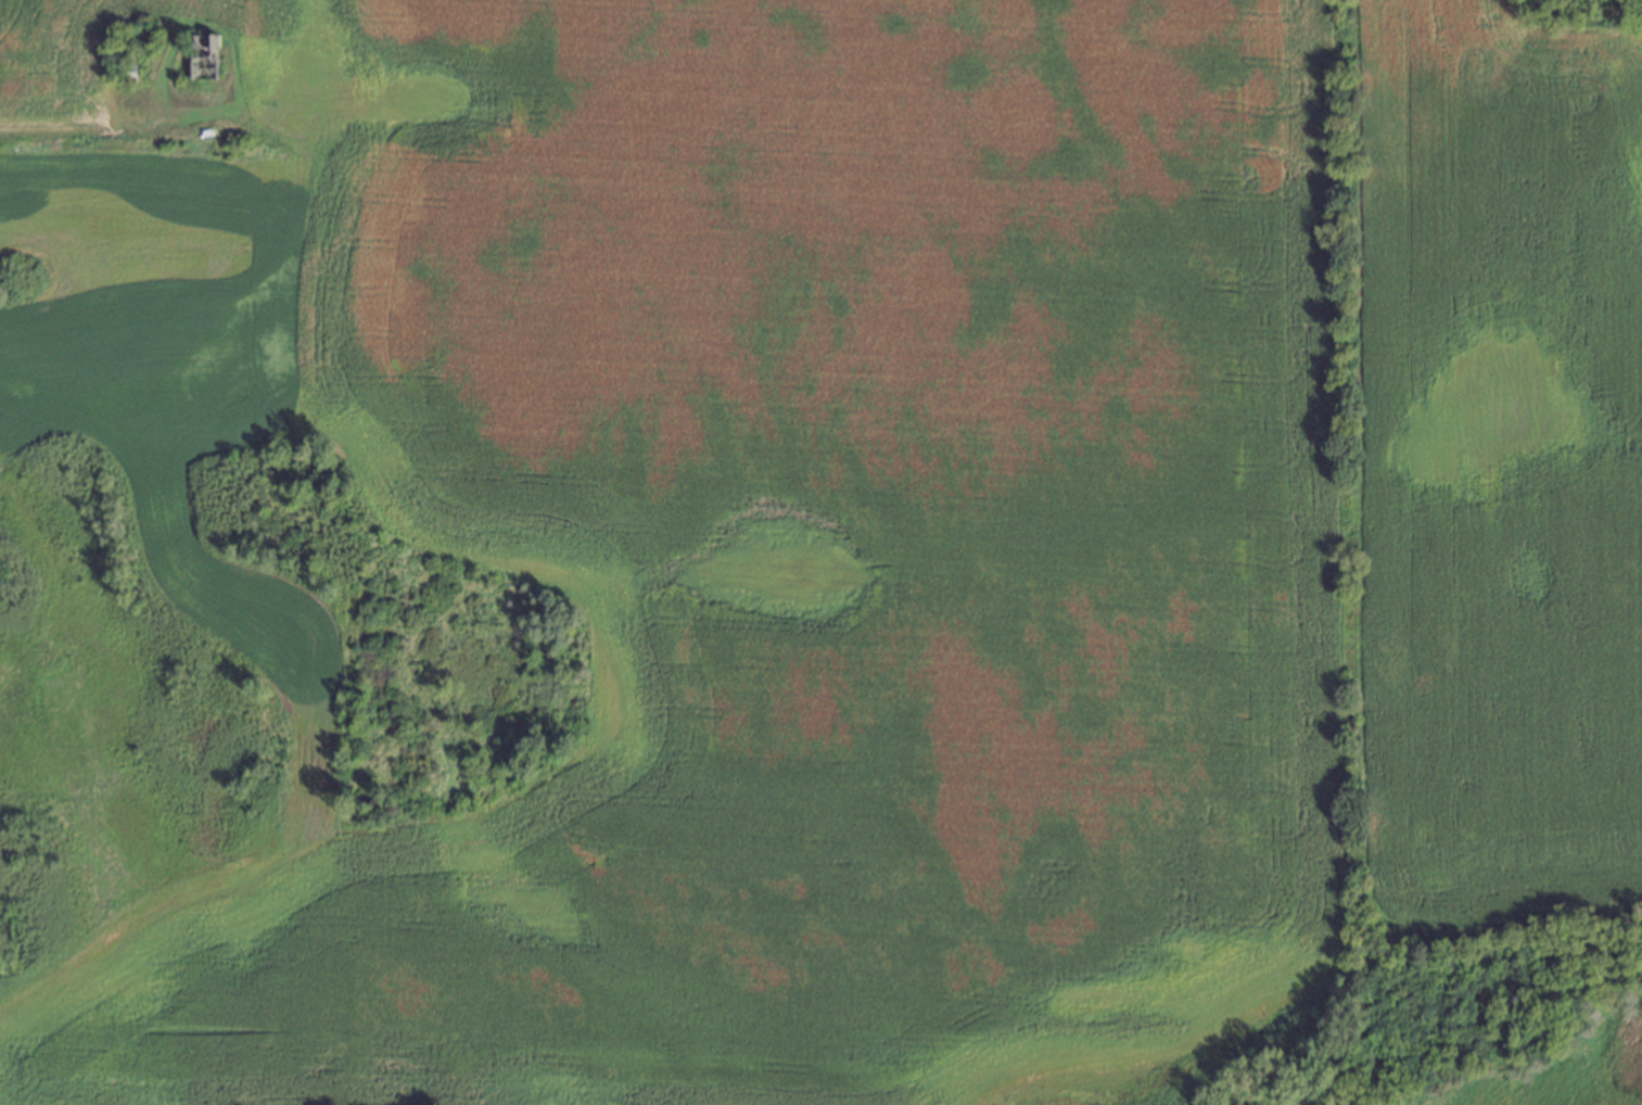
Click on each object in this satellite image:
building: (209, 58)
building: (128, 73)
road: (87, 132)

